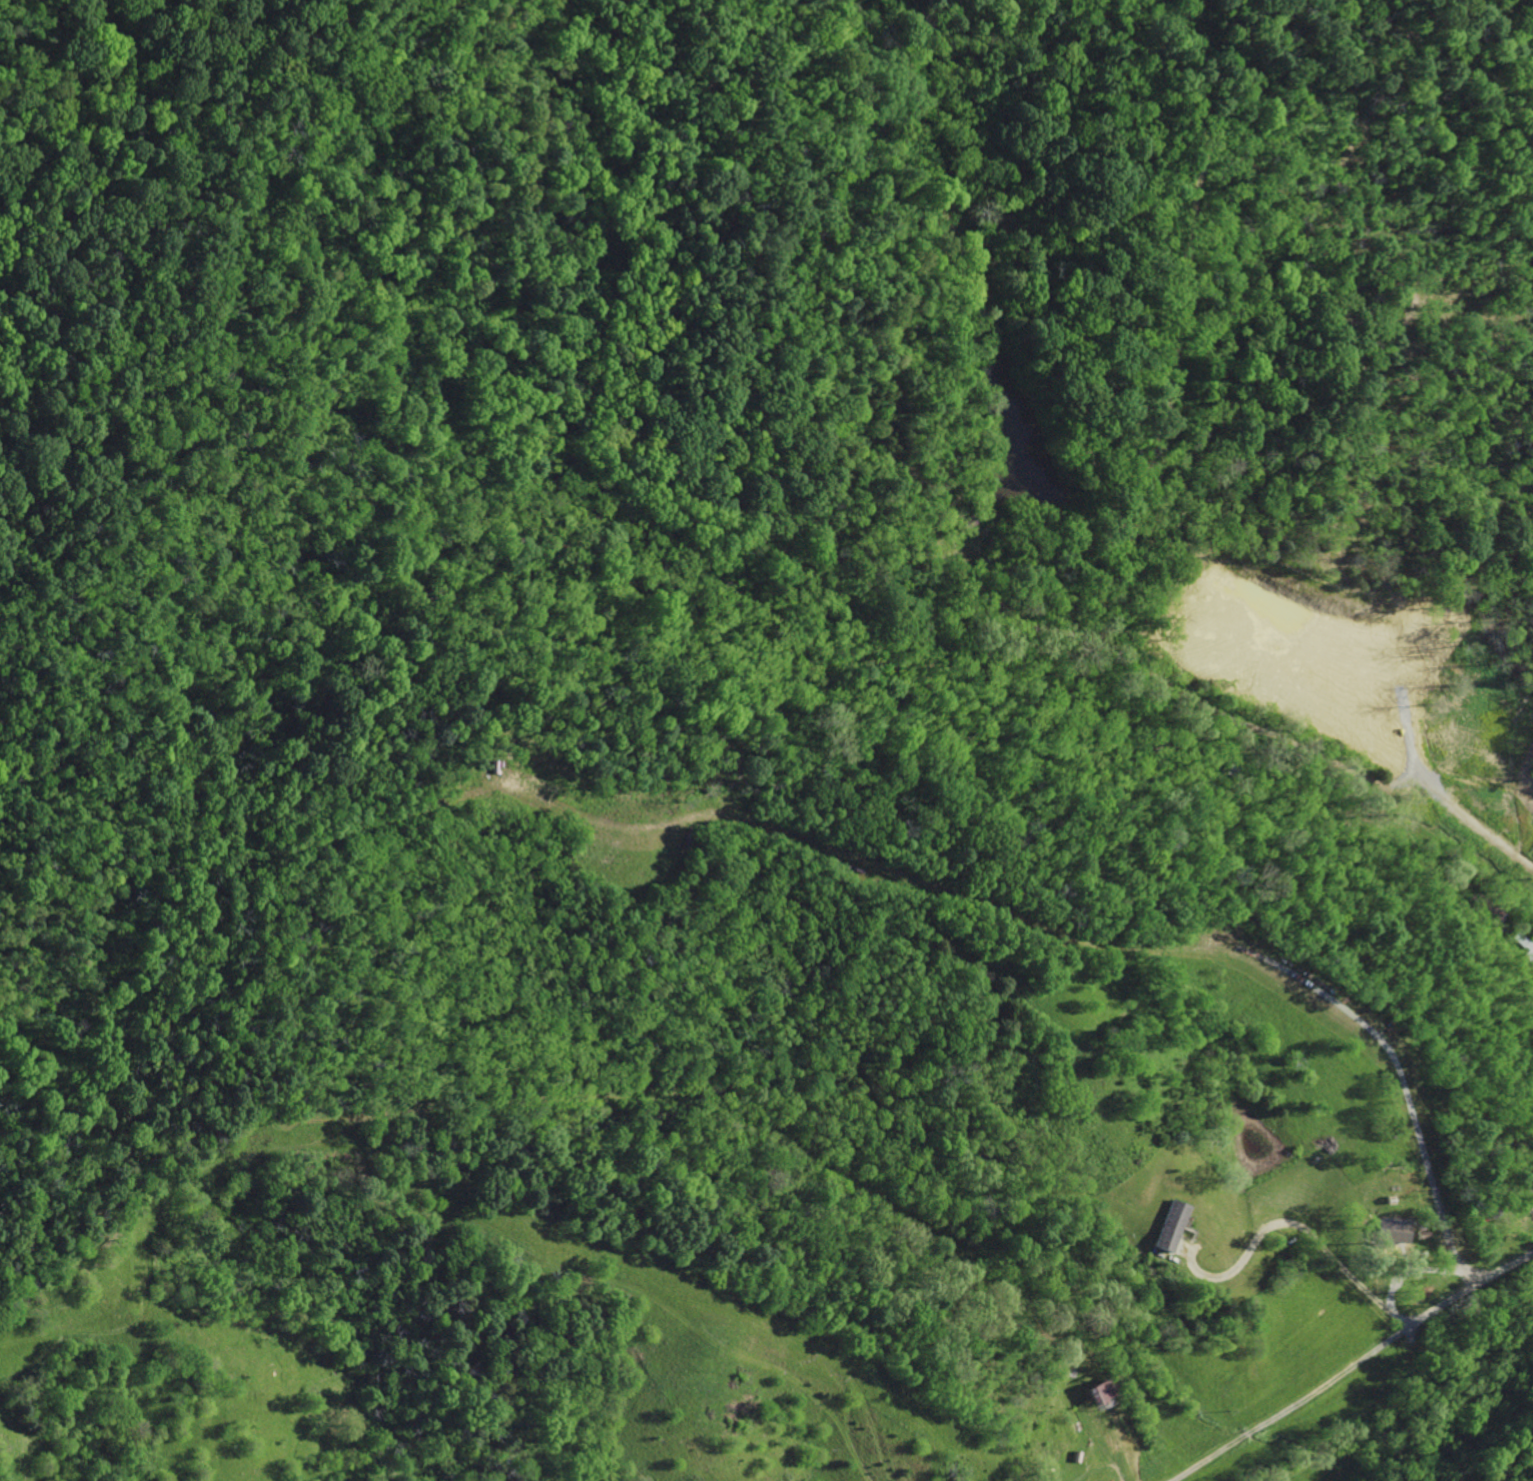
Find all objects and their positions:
road: (1300, 1224)
building: (1165, 1227)
road: (1467, 1287)
building: (1095, 1396)
road: (1295, 1409)

